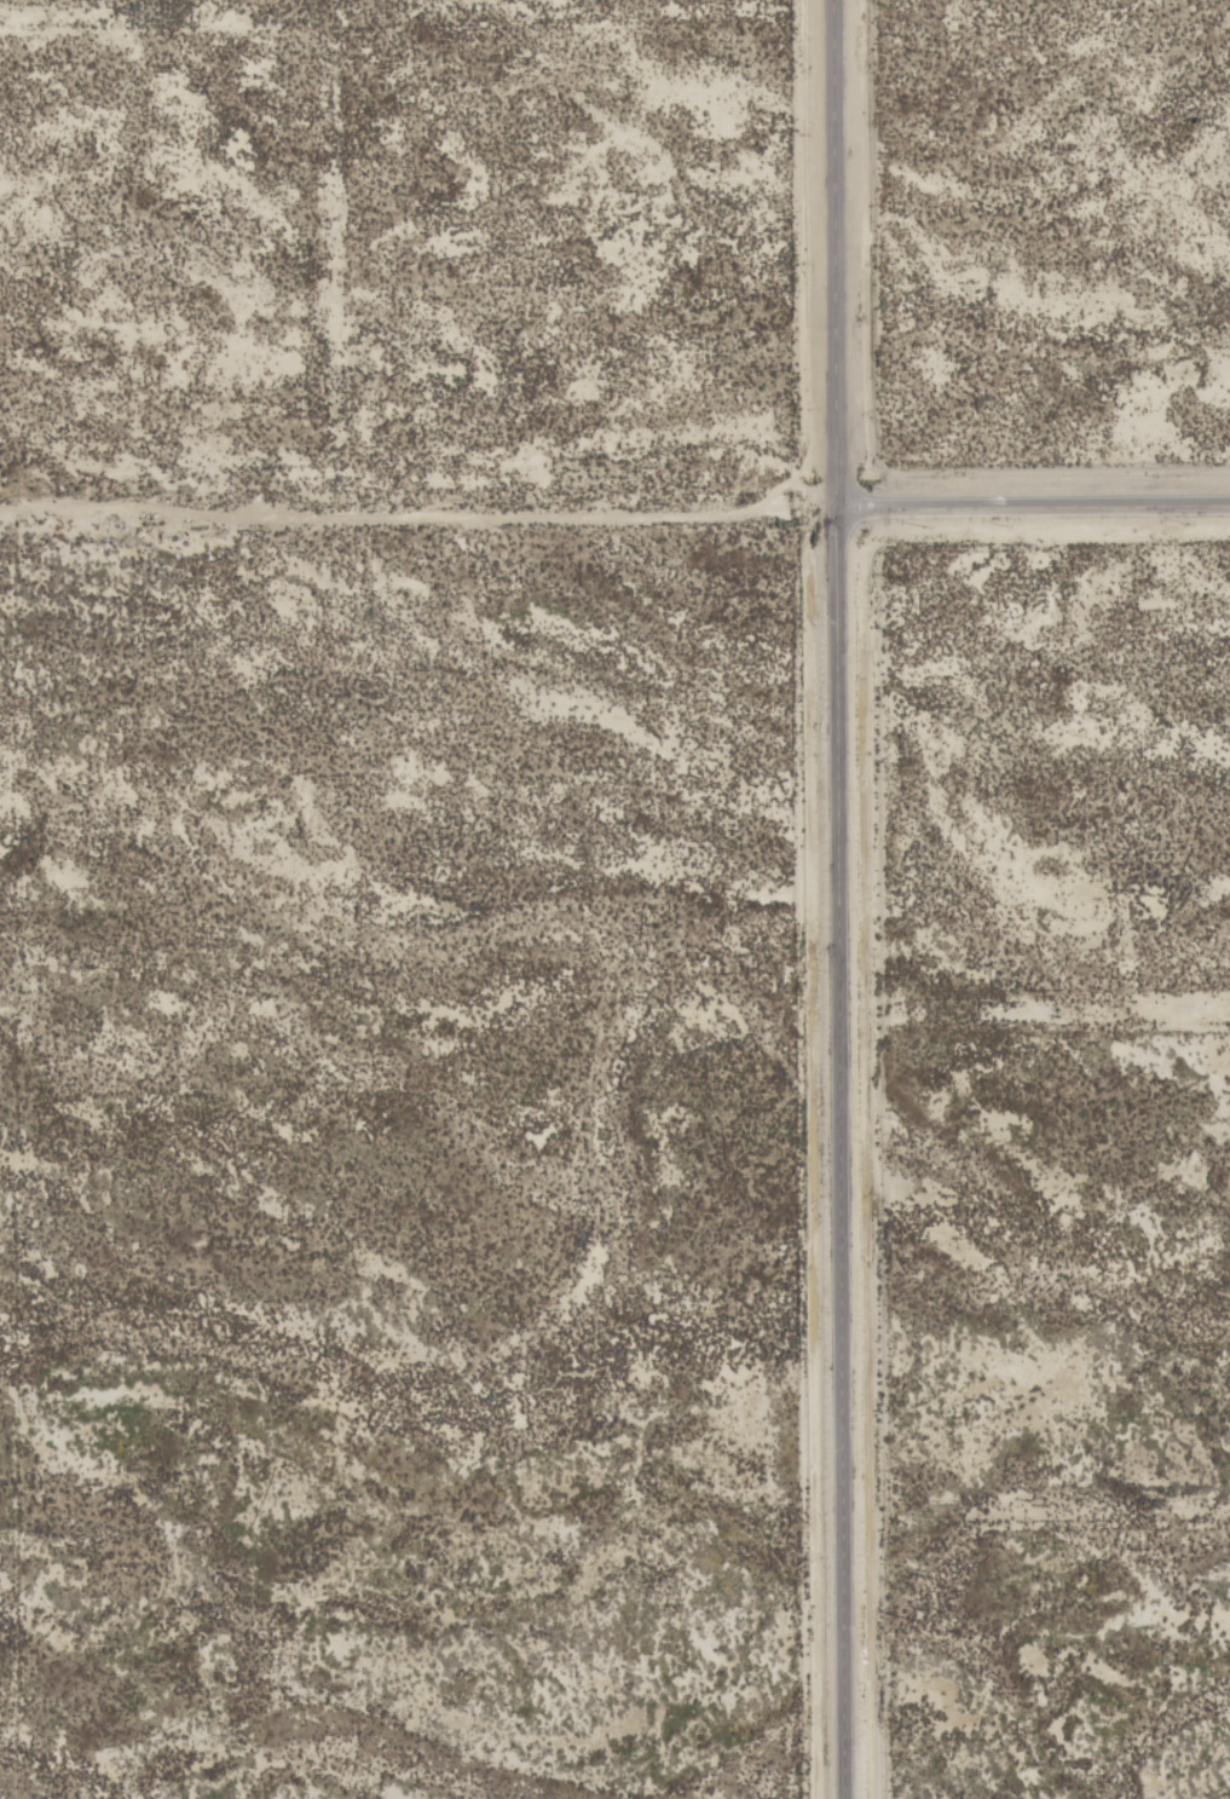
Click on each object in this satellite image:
road: (1034, 506)
road: (420, 513)
road: (841, 899)

